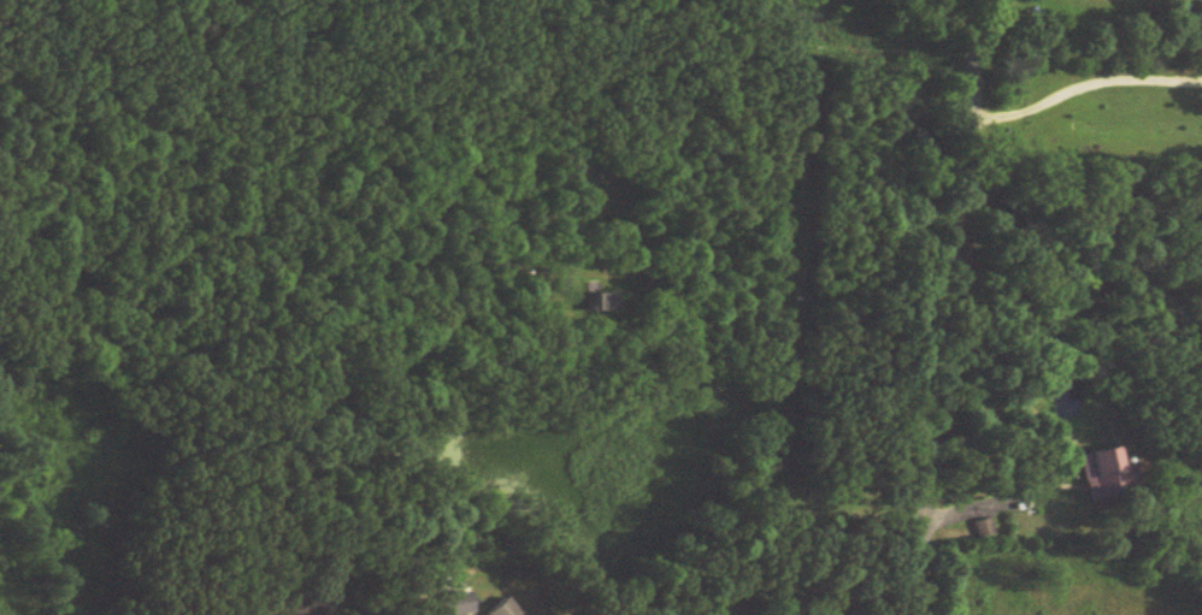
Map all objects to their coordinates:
building: (609, 302)
road: (949, 306)
building: (1118, 471)
building: (988, 530)
building: (461, 603)
building: (512, 608)

